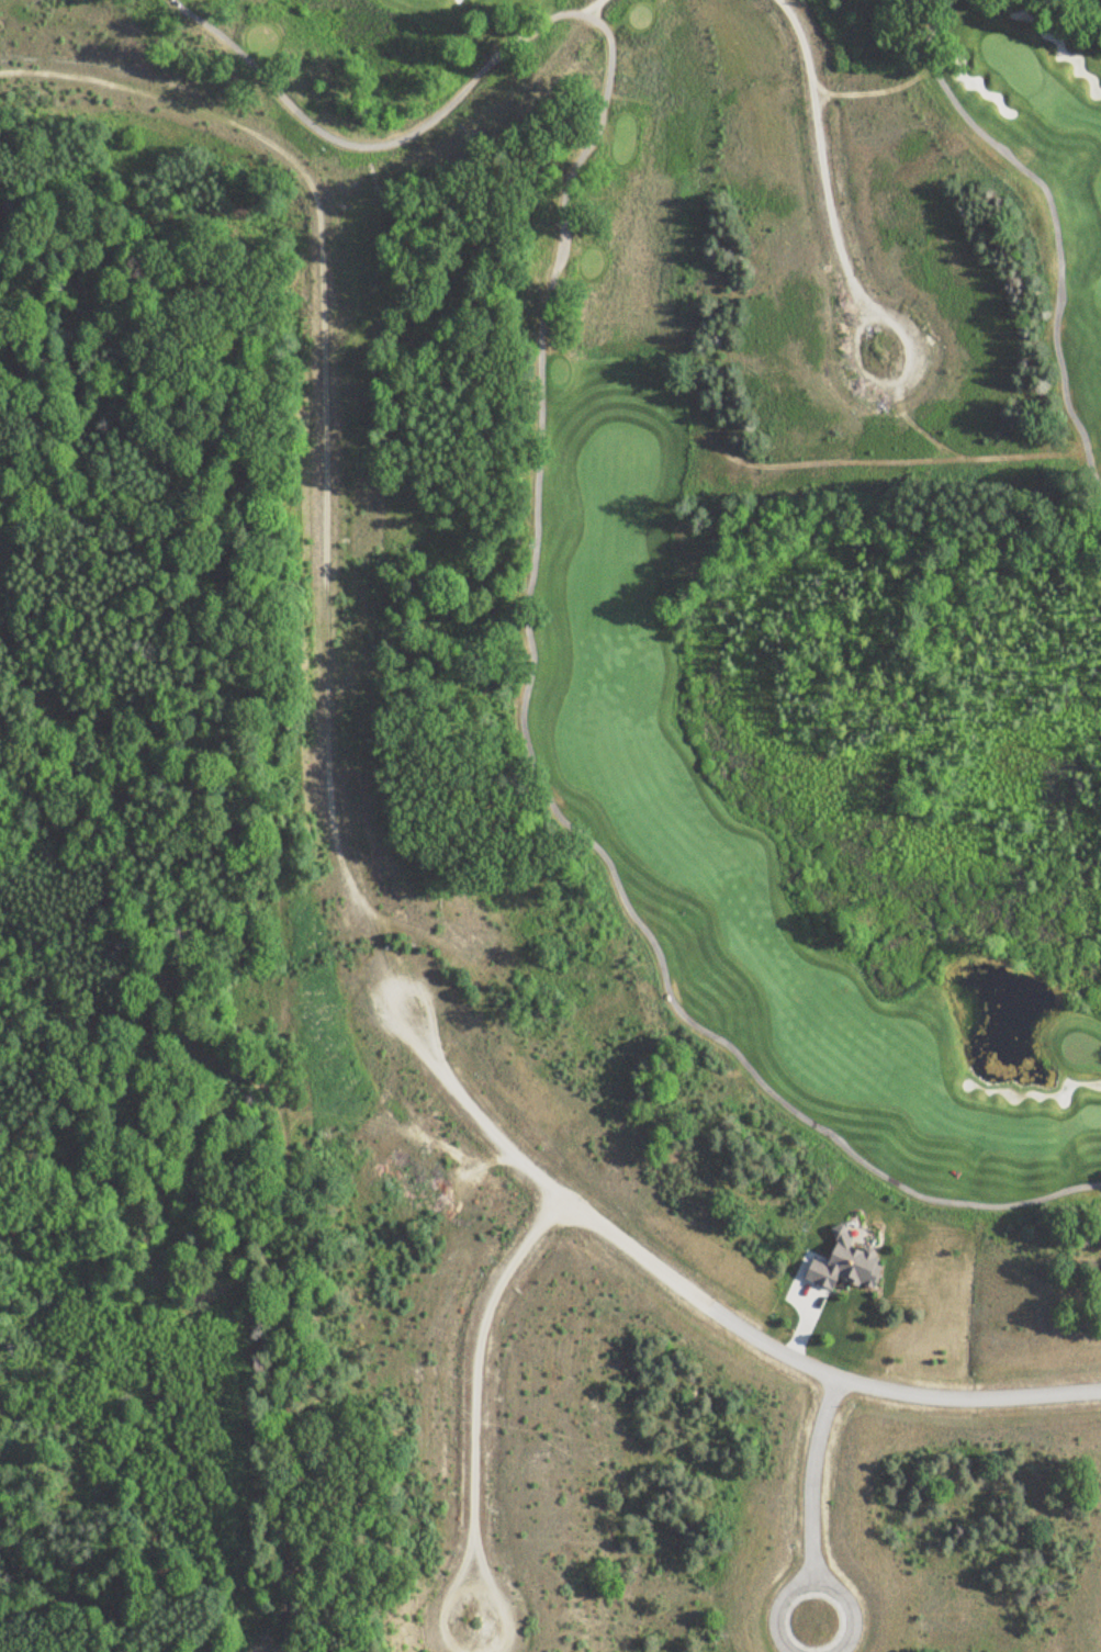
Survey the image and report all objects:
road: (591, 8)
road: (937, 18)
park: (1012, 58)
road: (865, 92)
road: (842, 259)
road: (1072, 417)
road: (918, 428)
road: (1091, 471)
road: (535, 513)
park: (766, 536)
park: (1089, 1113)
road: (699, 1302)
road: (473, 1394)
road: (812, 1477)
road: (849, 1609)
road: (775, 1610)

